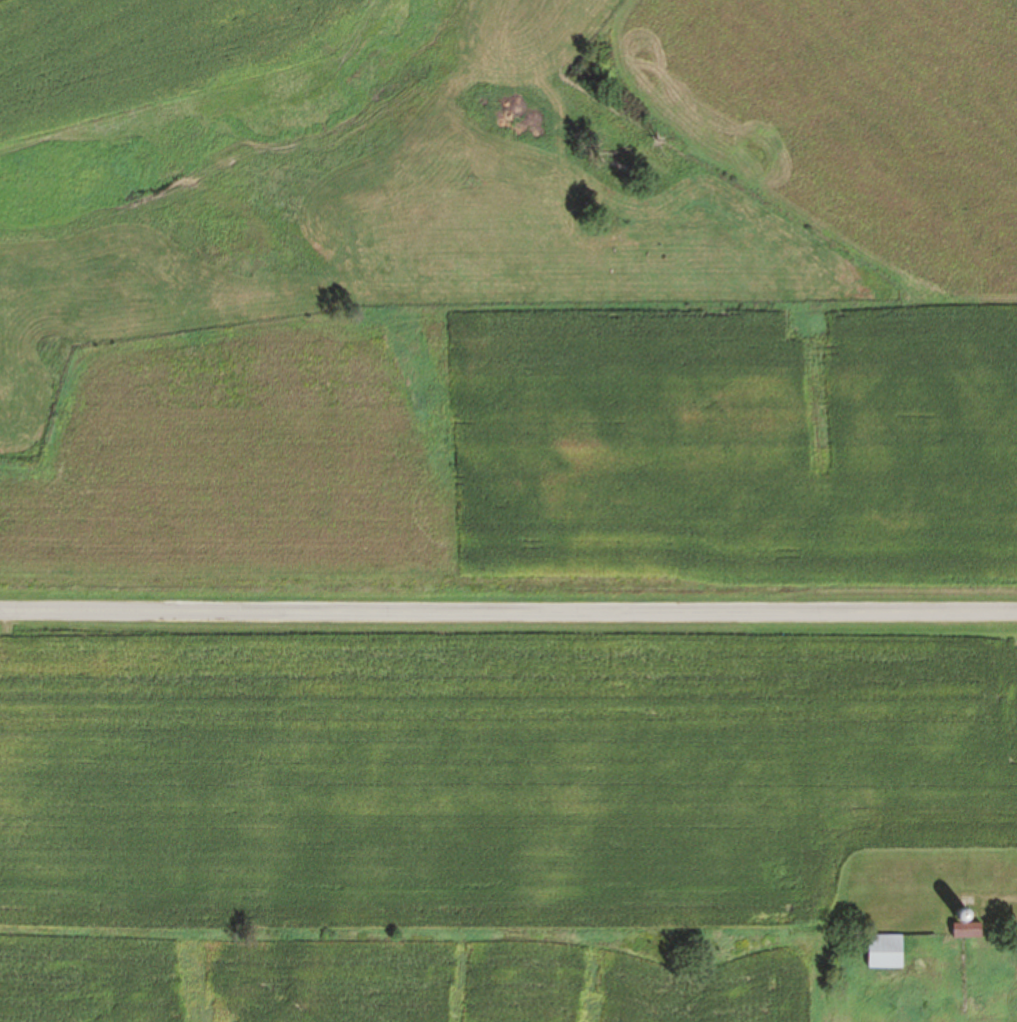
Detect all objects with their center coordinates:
road: (508, 608)
building: (887, 952)

